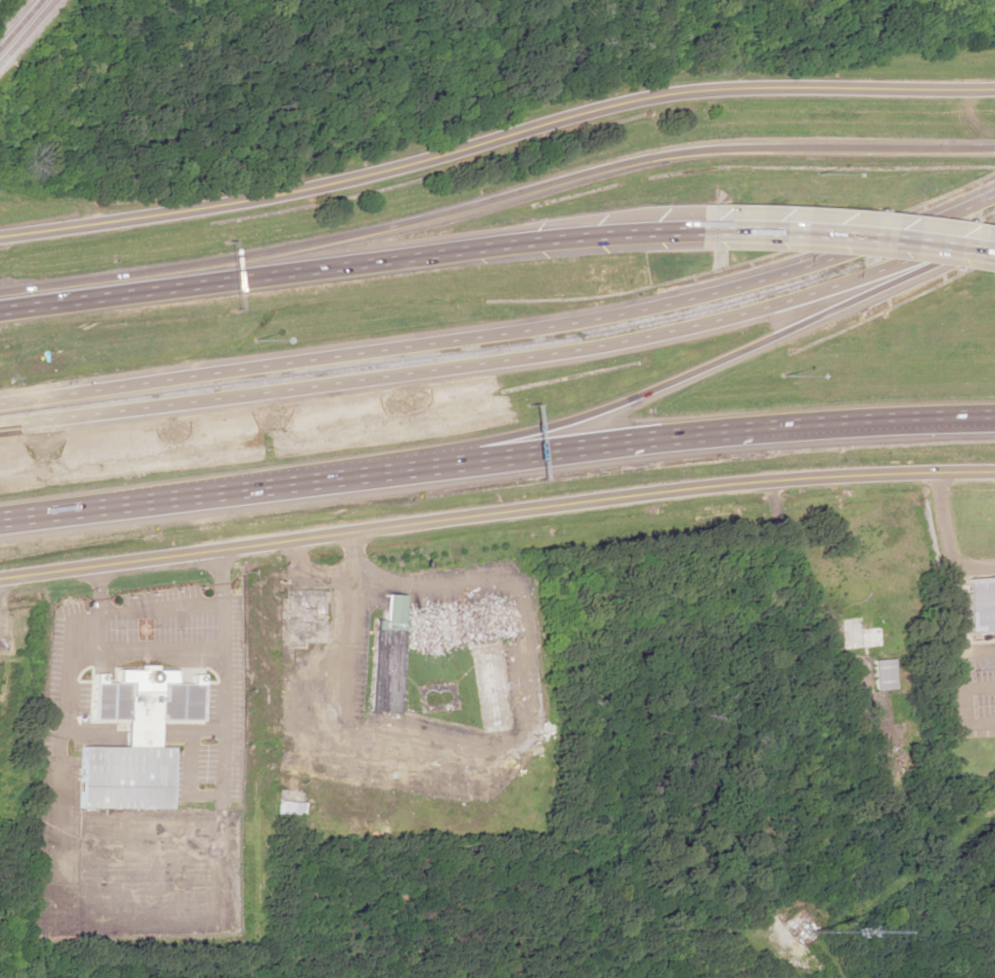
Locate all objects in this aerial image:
railway: (20, 23)
railway: (26, 30)
road: (495, 139)
road: (495, 198)
road: (848, 230)
road: (349, 259)
road: (505, 334)
road: (503, 356)
road: (696, 375)
road: (994, 420)
road: (496, 461)
road: (496, 515)
building: (981, 604)
building: (459, 626)
building: (857, 634)
road: (70, 635)
building: (384, 657)
building: (881, 674)
road: (222, 678)
parking lot: (63, 698)
road: (141, 727)
building: (133, 739)
road: (526, 740)
road: (187, 780)
road: (58, 818)
parking lot: (129, 865)

